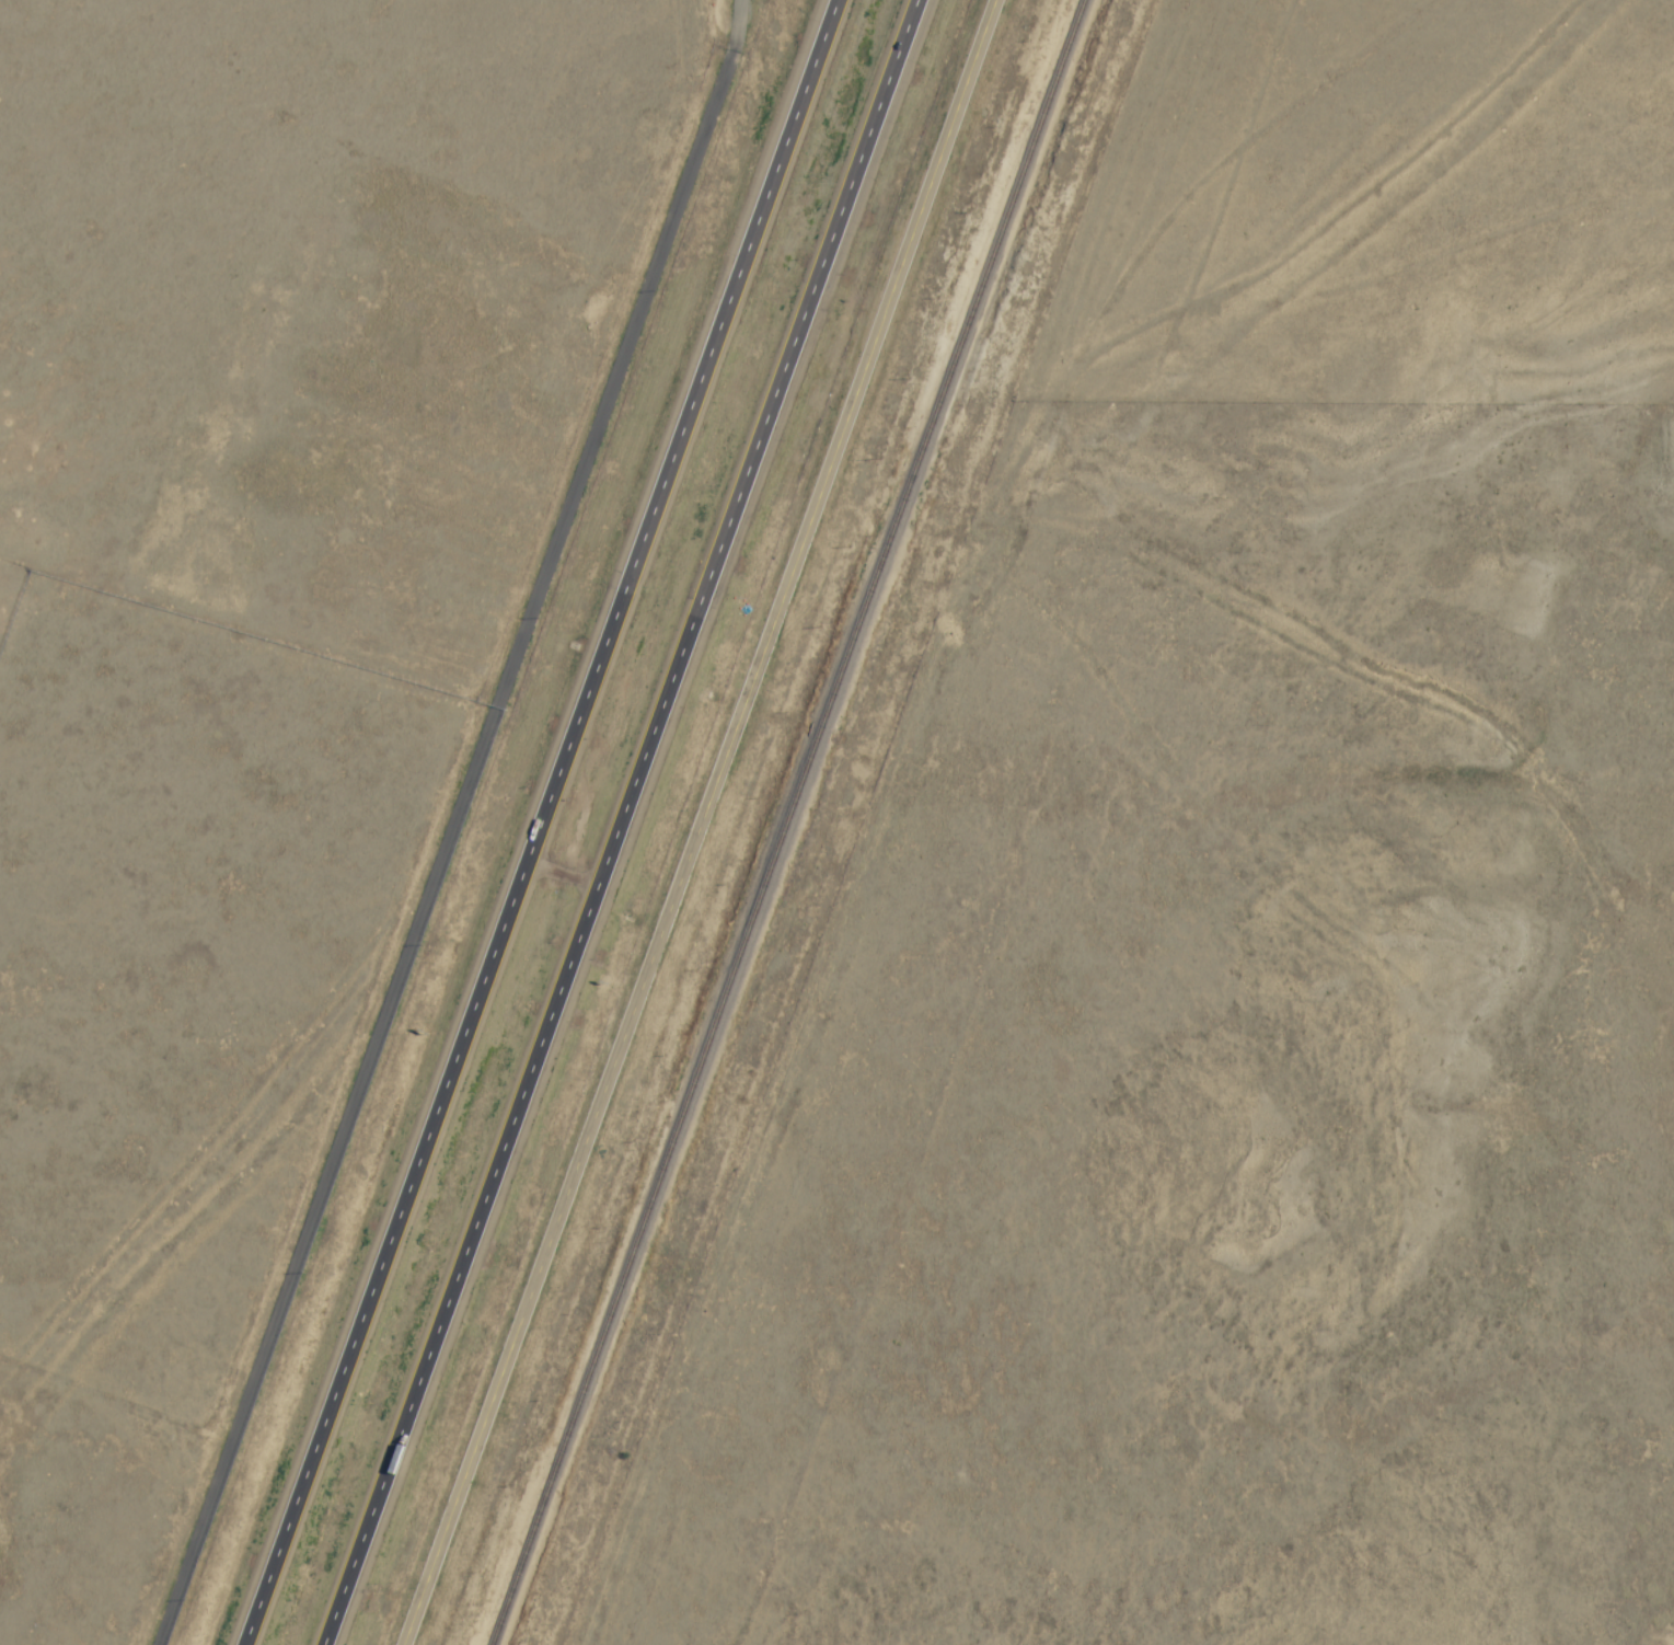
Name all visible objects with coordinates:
road: (625, 821)
road: (450, 822)
road: (539, 822)
railway: (787, 822)
road: (700, 825)

